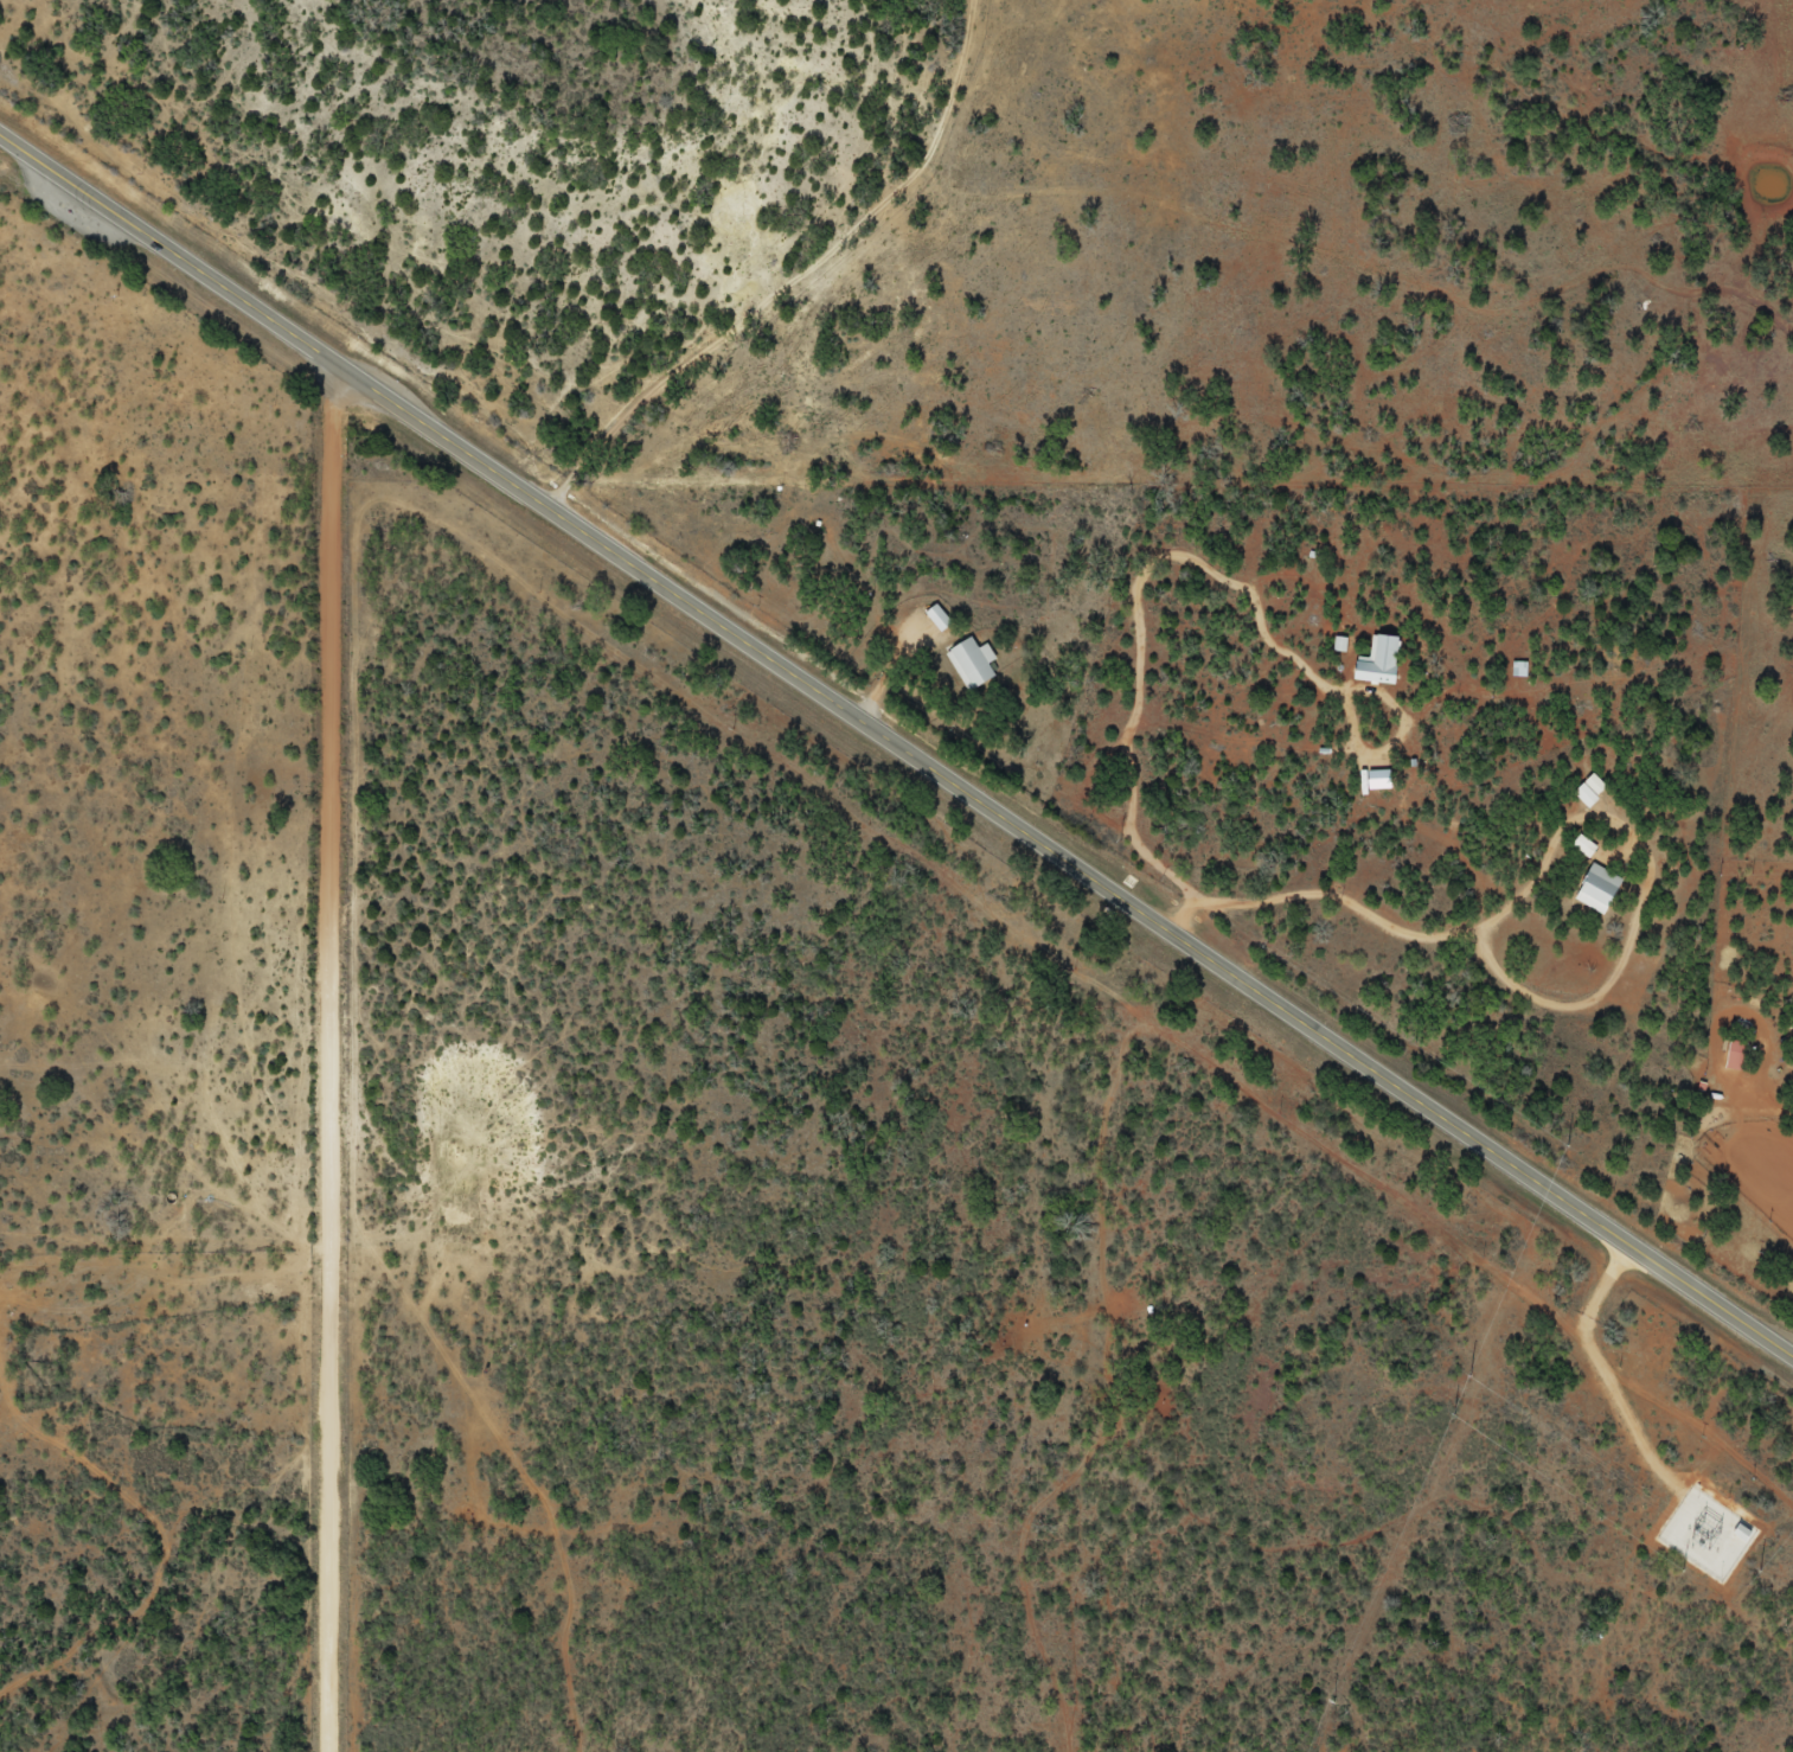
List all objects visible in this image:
road: (809, 277)
building: (974, 666)
road: (1448, 718)
road: (894, 752)
building: (1593, 791)
building: (1584, 848)
building: (1600, 890)
road: (333, 1056)
building: (1738, 1056)
power substation: (1704, 1535)

